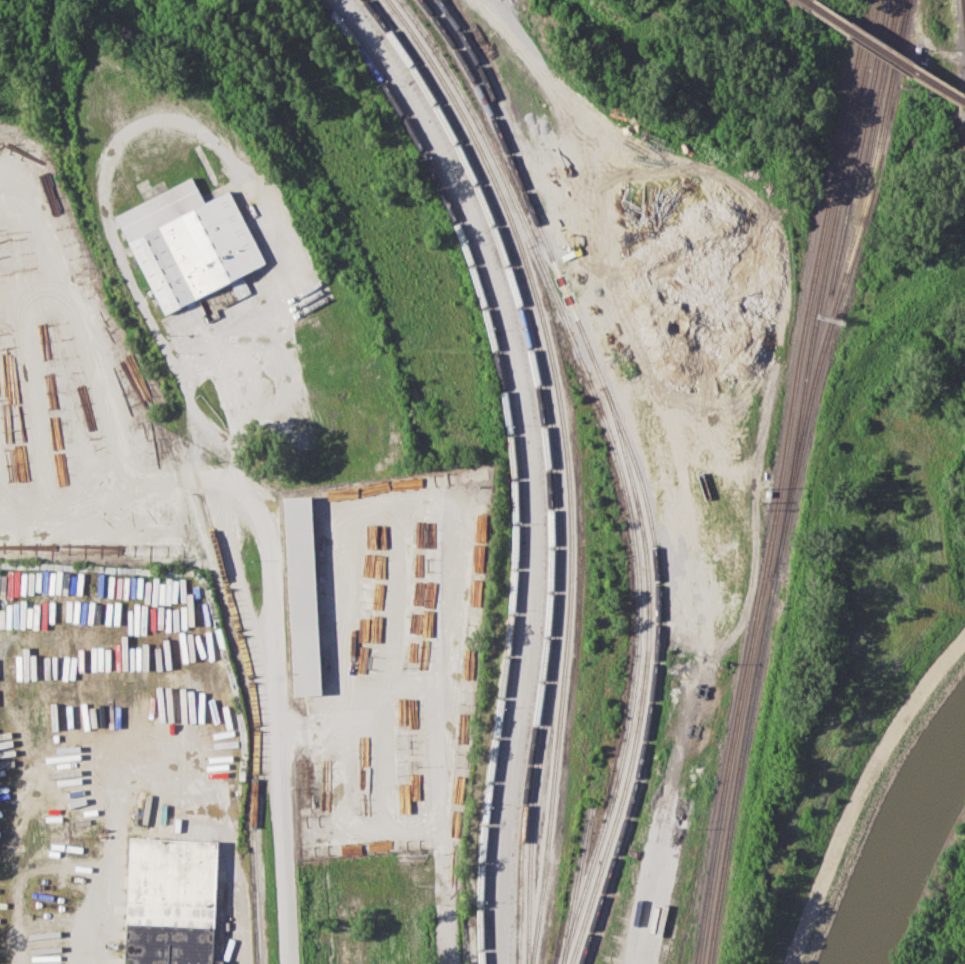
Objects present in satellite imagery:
railway: (964, 0)
railway: (805, 2)
railway: (904, 20)
railway: (885, 54)
road: (530, 60)
railway: (880, 87)
railway: (896, 88)
railway: (481, 95)
road: (167, 122)
railway: (65, 123)
railway: (860, 146)
silo: (670, 213)
building: (189, 242)
building: (698, 244)
railway: (817, 258)
railway: (827, 262)
railway: (847, 263)
building: (713, 291)
silo: (713, 291)
road: (78, 324)
road: (225, 350)
railway: (510, 459)
railway: (546, 461)
railway: (556, 462)
railway: (616, 462)
railway: (566, 463)
railway: (628, 468)
road: (175, 480)
road: (223, 481)
road: (66, 511)
railway: (214, 544)
road: (335, 557)
building: (305, 597)
railway: (767, 606)
road: (389, 663)
railway: (653, 674)
railway: (732, 740)
railway: (743, 744)
road: (165, 772)
road: (282, 811)
river: (912, 849)
railway: (576, 885)
road: (443, 891)
building: (177, 901)
railway: (690, 905)
railway: (256, 914)

